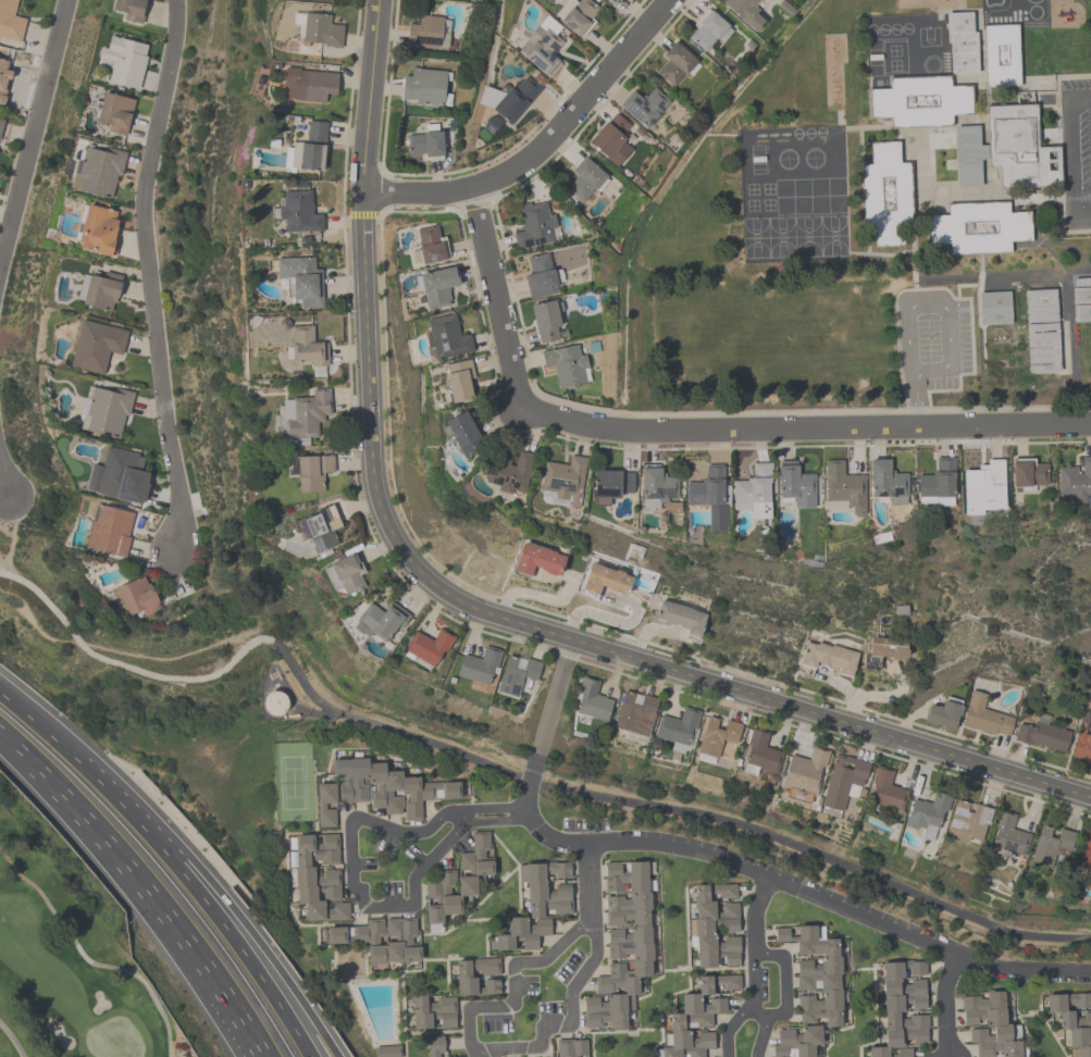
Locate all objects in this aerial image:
building: (613, 1)
building: (129, 9)
building: (746, 11)
building: (577, 15)
building: (10, 21)
building: (321, 29)
building: (427, 32)
building: (708, 32)
building: (962, 41)
building: (542, 46)
building: (1001, 54)
building: (123, 61)
building: (675, 63)
building: (3, 79)
building: (308, 85)
building: (425, 87)
building: (508, 99)
building: (920, 101)
building: (643, 105)
building: (114, 112)
building: (1, 123)
road: (33, 126)
building: (610, 139)
building: (425, 144)
road: (541, 144)
building: (307, 149)
building: (1007, 150)
building: (97, 171)
building: (585, 178)
building: (885, 194)
building: (298, 211)
building: (534, 225)
building: (978, 227)
building: (98, 231)
building: (429, 246)
road: (148, 273)
building: (540, 276)
building: (300, 279)
building: (1081, 281)
building: (437, 286)
building: (98, 289)
road: (941, 303)
building: (1081, 303)
building: (993, 308)
building: (545, 319)
building: (1041, 331)
building: (445, 338)
building: (95, 345)
building: (306, 347)
building: (566, 364)
building: (458, 380)
road: (916, 399)
building: (104, 410)
building: (305, 413)
road: (692, 428)
building: (461, 432)
building: (509, 471)
building: (312, 472)
building: (1027, 472)
building: (119, 476)
building: (565, 478)
building: (1075, 480)
building: (887, 483)
building: (937, 483)
building: (610, 485)
building: (656, 485)
building: (795, 485)
building: (844, 486)
road: (2, 487)
building: (982, 487)
building: (753, 490)
building: (709, 495)
building: (319, 527)
building: (108, 531)
building: (537, 560)
building: (345, 573)
building: (605, 580)
building: (137, 596)
road: (471, 606)
building: (680, 617)
building: (380, 621)
building: (427, 646)
building: (887, 647)
building: (828, 657)
building: (479, 664)
road: (125, 667)
building: (516, 674)
road: (557, 696)
building: (592, 699)
building: (275, 705)
building: (635, 712)
building: (943, 712)
building: (983, 716)
road: (34, 720)
road: (382, 728)
building: (678, 729)
building: (717, 735)
building: (1042, 735)
building: (1081, 747)
road: (17, 753)
building: (759, 755)
road: (532, 769)
building: (803, 774)
road: (529, 781)
road: (99, 782)
building: (841, 783)
building: (376, 789)
building: (885, 791)
road: (492, 807)
building: (927, 813)
road: (461, 816)
road: (497, 820)
road: (374, 821)
building: (968, 821)
building: (1008, 834)
building: (1050, 845)
building: (1084, 848)
road: (817, 853)
building: (457, 880)
road: (587, 880)
building: (313, 881)
building: (1089, 884)
road: (793, 887)
road: (413, 890)
road: (156, 906)
building: (535, 906)
road: (752, 915)
road: (245, 925)
building: (714, 925)
road: (224, 933)
building: (365, 941)
building: (622, 945)
park: (64, 973)
building: (464, 977)
road: (783, 978)
road: (754, 982)
building: (832, 993)
road: (944, 999)
building: (901, 1008)
building: (433, 1011)
road: (758, 1011)
building: (695, 1018)
building: (1073, 1019)
building: (990, 1024)
road: (728, 1029)
road: (759, 1035)
building: (434, 1045)
road: (476, 1047)
building: (570, 1047)
road: (946, 1047)
building: (386, 1050)
road: (492, 1052)
road: (474, 1053)

